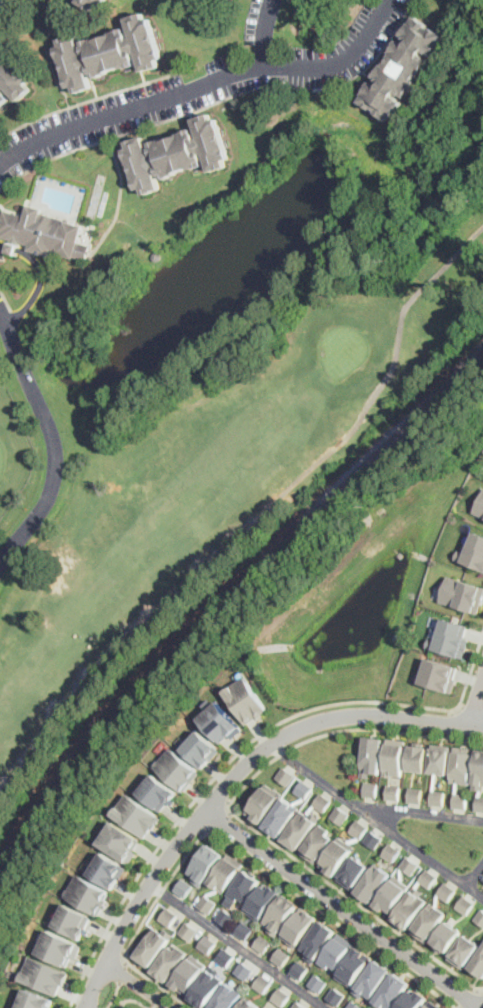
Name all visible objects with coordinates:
building: (3, 3)
building: (93, 3)
road: (265, 33)
building: (110, 52)
building: (403, 67)
building: (12, 79)
road: (203, 83)
building: (177, 153)
building: (43, 233)
building: (157, 256)
road: (41, 278)
road: (54, 442)
park: (200, 483)
building: (480, 506)
building: (475, 551)
railway: (225, 591)
building: (463, 593)
building: (452, 636)
road: (93, 672)
building: (438, 673)
building: (244, 697)
road: (476, 703)
road: (469, 710)
building: (221, 721)
road: (451, 723)
building: (200, 748)
road: (240, 752)
building: (372, 755)
building: (395, 756)
building: (420, 756)
building: (442, 759)
building: (463, 764)
building: (176, 767)
building: (480, 771)
building: (285, 777)
road: (230, 779)
building: (373, 787)
building: (303, 789)
building: (394, 790)
building: (160, 792)
building: (417, 794)
building: (439, 796)
building: (460, 799)
building: (322, 802)
building: (480, 802)
building: (263, 803)
building: (137, 813)
building: (340, 814)
road: (424, 815)
road: (238, 816)
building: (281, 816)
road: (376, 817)
road: (219, 820)
road: (191, 826)
building: (360, 828)
building: (300, 830)
building: (373, 838)
building: (120, 841)
building: (317, 842)
building: (393, 851)
building: (337, 856)
building: (205, 863)
building: (411, 865)
building: (107, 869)
building: (353, 871)
road: (270, 873)
road: (475, 873)
building: (224, 874)
building: (430, 877)
building: (373, 883)
building: (243, 885)
building: (184, 887)
building: (448, 891)
building: (87, 892)
building: (391, 895)
building: (206, 902)
building: (262, 902)
building: (465, 904)
road: (342, 909)
building: (410, 909)
building: (281, 913)
building: (480, 915)
building: (226, 916)
building: (170, 917)
building: (72, 920)
building: (429, 922)
building: (299, 927)
building: (244, 929)
building: (188, 931)
building: (446, 936)
building: (317, 939)
building: (263, 942)
road: (114, 943)
building: (207, 944)
road: (238, 945)
building: (56, 947)
building: (152, 948)
building: (464, 950)
building: (334, 952)
building: (281, 955)
building: (226, 956)
road: (124, 959)
building: (479, 962)
building: (169, 963)
building: (353, 965)
building: (242, 969)
building: (299, 969)
road: (122, 970)
building: (10, 973)
building: (189, 974)
building: (44, 975)
building: (372, 979)
building: (262, 982)
road: (140, 983)
road: (157, 983)
building: (317, 983)
building: (206, 987)
building: (392, 990)
road: (115, 995)
park: (124, 996)
building: (227, 996)
building: (279, 996)
building: (335, 996)
road: (119, 998)
road: (471, 998)
building: (34, 999)
road: (134, 999)
building: (414, 999)
building: (249, 1004)
building: (355, 1004)
road: (154, 1005)
building: (298, 1005)
building: (429, 1005)
building: (264, 1007)
building: (265, 1007)

